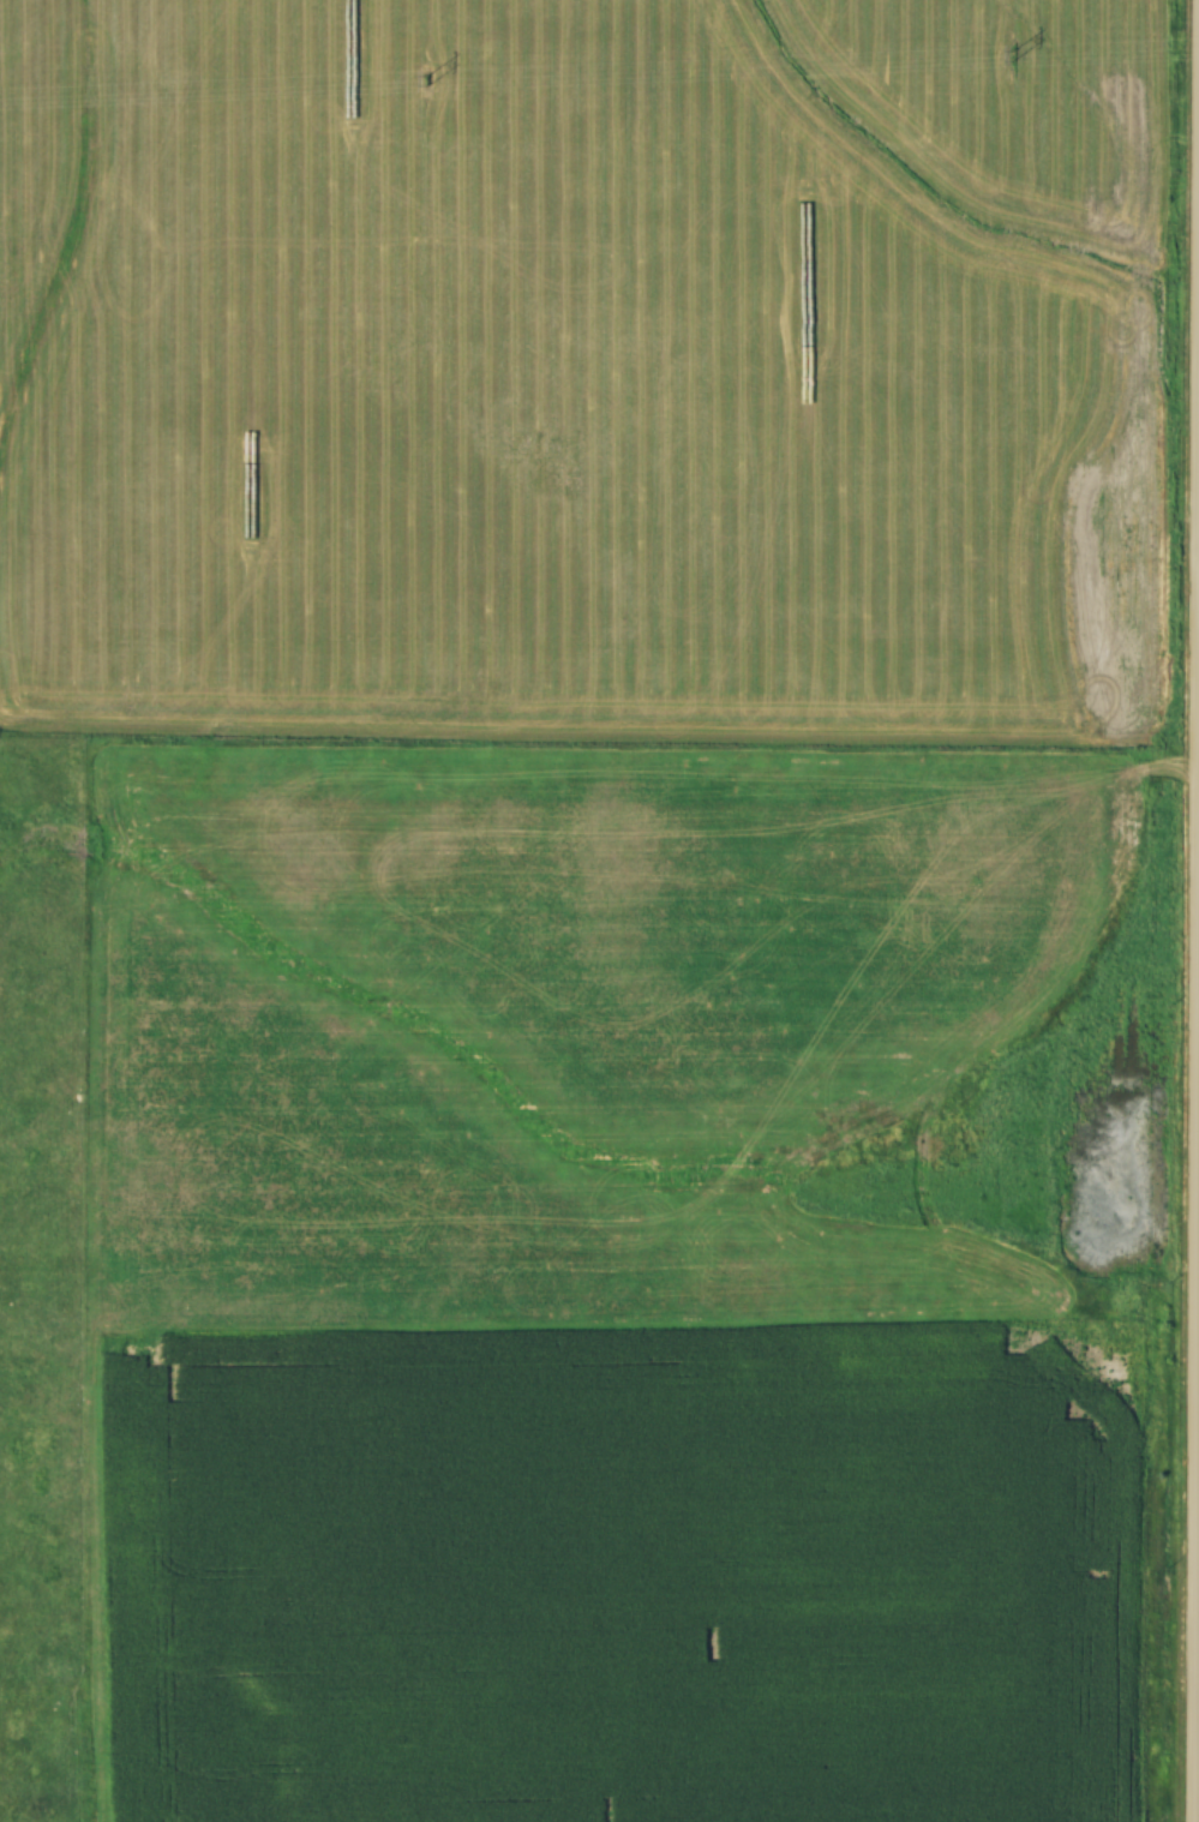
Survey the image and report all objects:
power tower: (1011, 58)
power tower: (426, 82)
road: (1194, 911)

